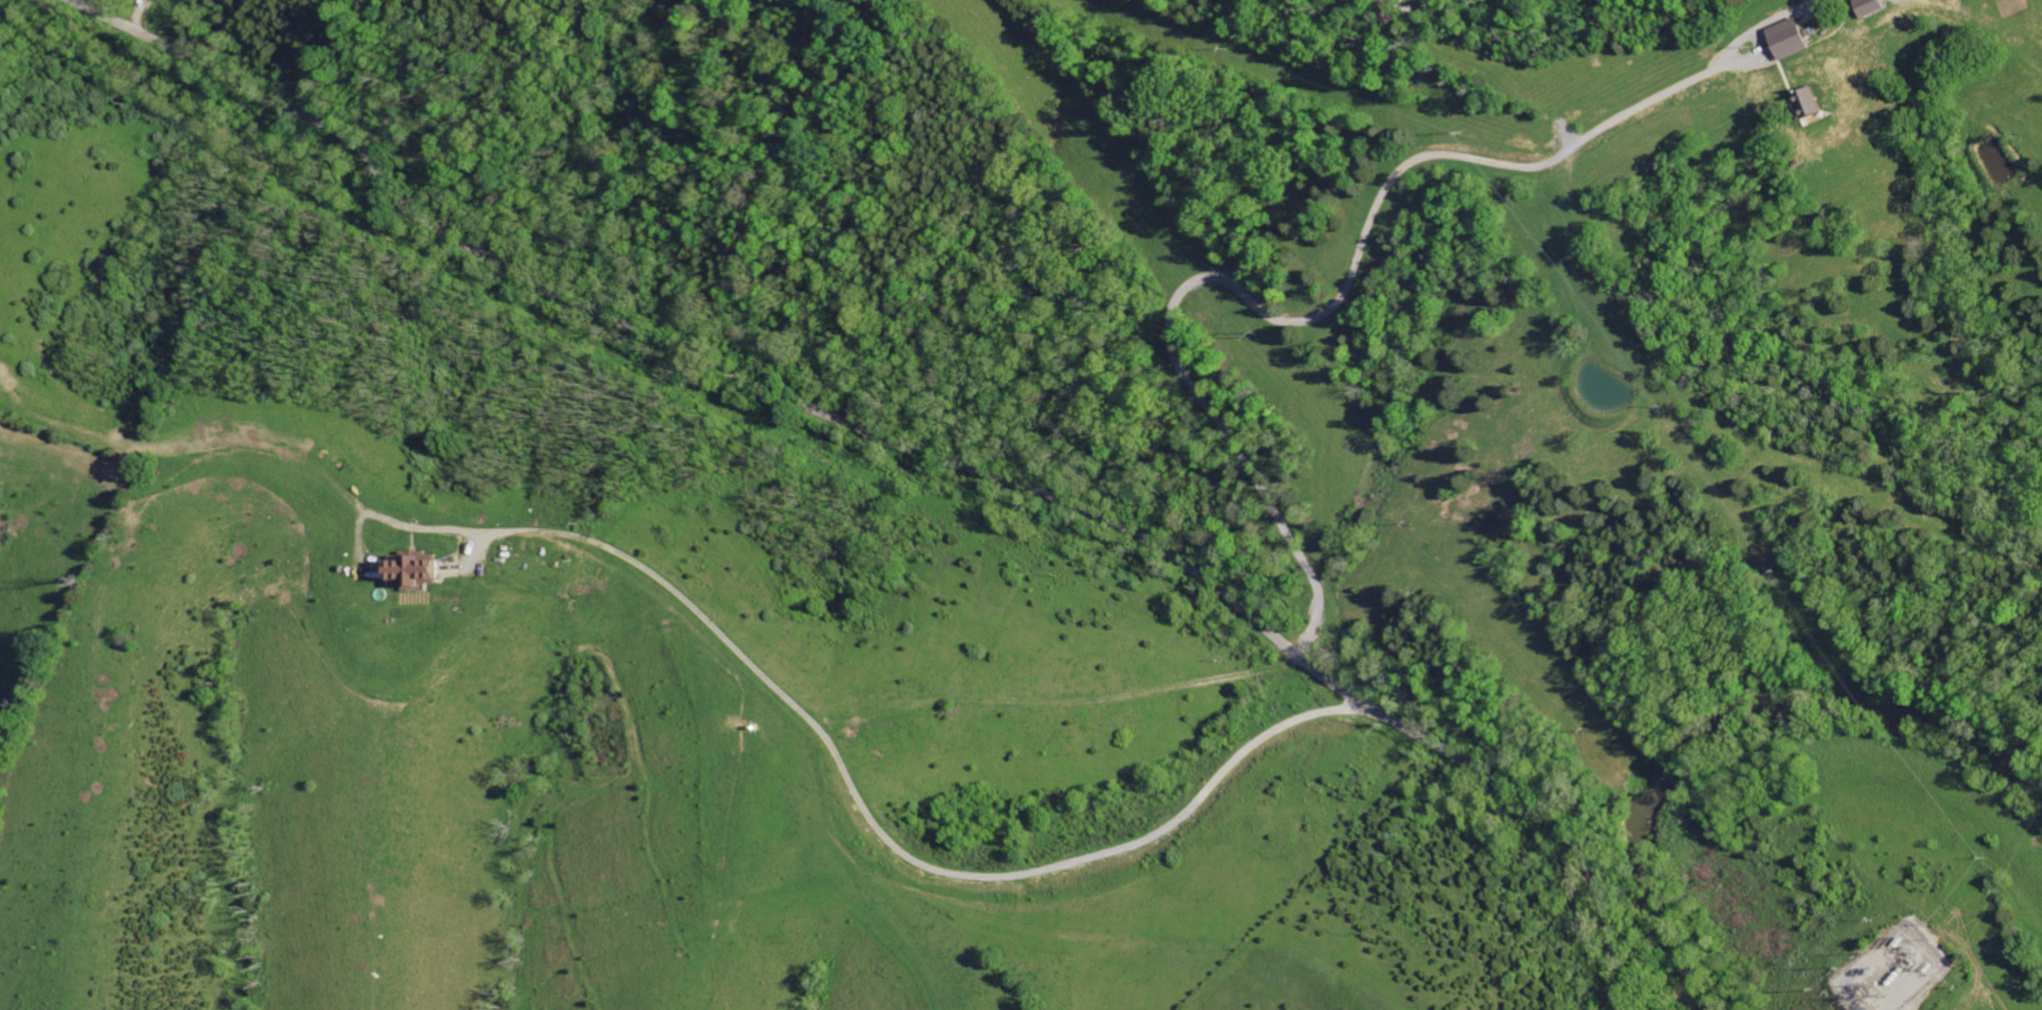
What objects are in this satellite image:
building: (1953, 4)
building: (1861, 7)
building: (200, 35)
building: (1792, 38)
road: (1364, 253)
road: (908, 448)
building: (413, 568)
road: (876, 827)
power substation: (1894, 971)
road: (1907, 1008)

